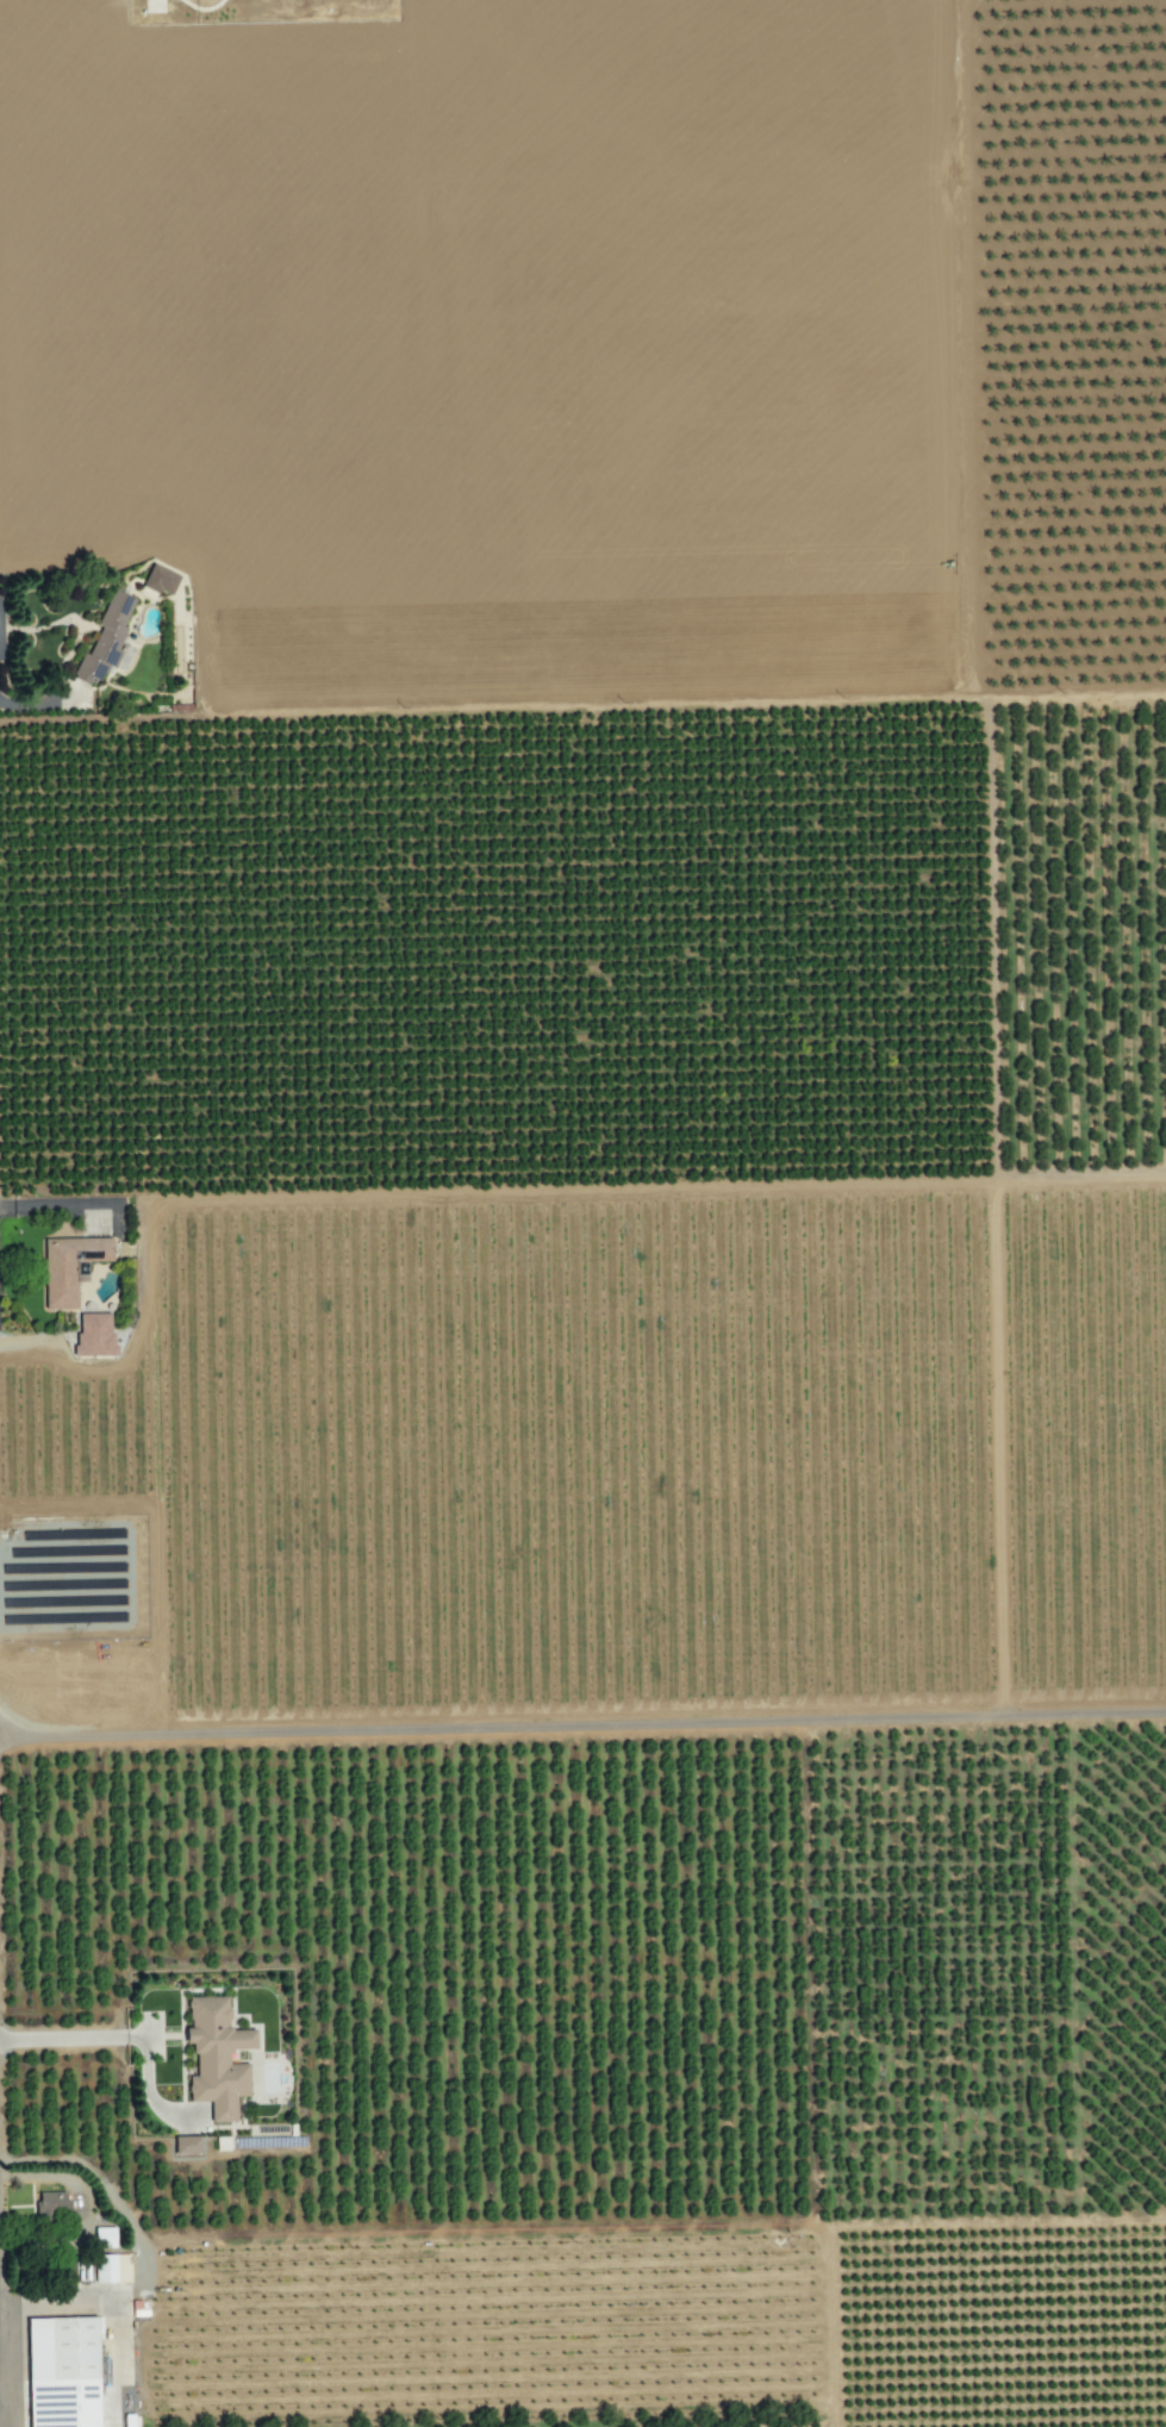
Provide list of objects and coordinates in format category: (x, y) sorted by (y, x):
building: (158, 579)
building: (105, 641)
building: (68, 1266)
building: (93, 1333)
road: (77, 2036)
building: (214, 2055)
building: (51, 2203)
building: (102, 2235)
building: (110, 2266)
road: (111, 2309)
building: (60, 2371)

